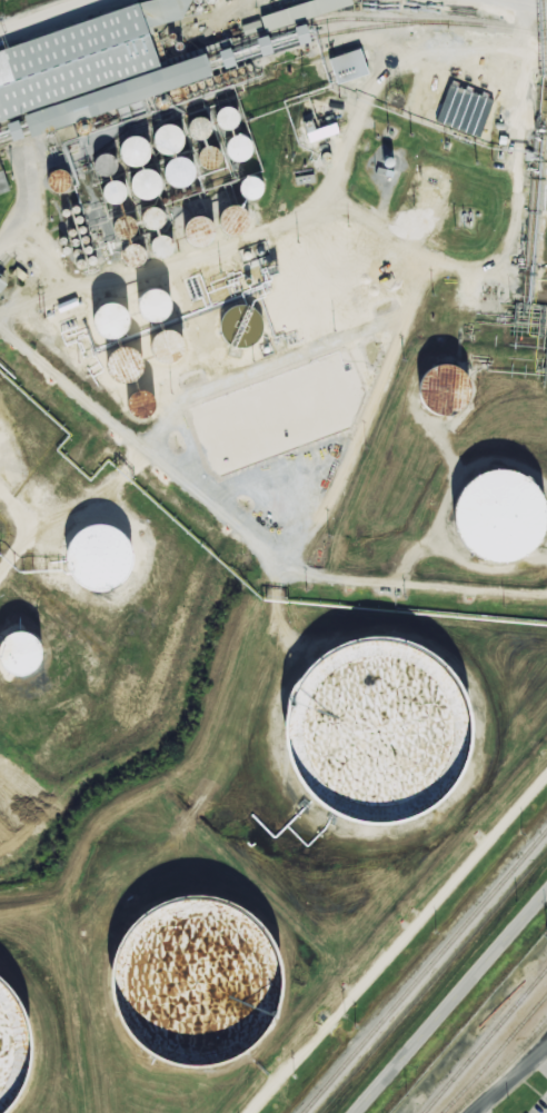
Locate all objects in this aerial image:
road: (511, 13)
building: (289, 16)
road: (63, 22)
railway: (268, 52)
railway: (218, 53)
road: (535, 62)
building: (345, 67)
building: (82, 71)
building: (419, 101)
building: (449, 111)
building: (483, 121)
building: (229, 125)
storage tank: (229, 125)
building: (318, 131)
building: (201, 137)
storage tank: (201, 137)
building: (170, 143)
storage tank: (170, 143)
building: (138, 155)
storage tank: (138, 155)
building: (241, 156)
storage tank: (241, 156)
building: (212, 163)
storage tank: (212, 163)
building: (107, 168)
storage tank: (107, 168)
building: (181, 180)
storage tank: (181, 180)
building: (60, 186)
storage tank: (60, 186)
building: (1, 188)
building: (147, 190)
storage tank: (147, 190)
building: (253, 195)
storage tank: (253, 195)
road: (31, 199)
building: (117, 199)
storage tank: (117, 199)
building: (77, 216)
storage tank: (77, 216)
building: (68, 219)
storage tank: (68, 219)
road: (380, 223)
building: (79, 225)
storage tank: (79, 225)
building: (155, 226)
storage tank: (155, 226)
building: (236, 227)
storage tank: (236, 227)
building: (128, 230)
storage tank: (128, 230)
building: (82, 235)
storage tank: (82, 235)
building: (73, 237)
storage tank: (73, 237)
building: (201, 238)
storage tank: (201, 238)
building: (86, 245)
storage tank: (86, 245)
building: (64, 247)
storage tank: (64, 247)
building: (77, 248)
storage tank: (77, 248)
building: (165, 254)
storage tank: (165, 254)
building: (89, 255)
storage tank: (89, 255)
building: (68, 258)
storage tank: (68, 258)
building: (79, 258)
storage tank: (79, 258)
building: (137, 261)
storage tank: (137, 261)
building: (93, 267)
storage tank: (93, 267)
building: (82, 269)
storage tank: (82, 269)
building: (1, 285)
road: (217, 295)
building: (197, 296)
storage tank: (197, 296)
building: (157, 311)
storage tank: (157, 311)
building: (113, 328)
storage tank: (113, 328)
building: (170, 354)
storage tank: (170, 354)
building: (128, 371)
storage tank: (128, 371)
building: (445, 395)
storage tank: (445, 395)
building: (140, 414)
storage tank: (140, 414)
road: (368, 414)
building: (497, 517)
storage tank: (497, 517)
road: (235, 528)
building: (102, 563)
storage tank: (102, 563)
building: (23, 655)
storage tank: (23, 655)
building: (378, 732)
storage tank: (378, 732)
railway: (424, 971)
building: (200, 982)
storage tank: (200, 982)
road: (450, 1000)
railway: (484, 1040)
building: (13, 1050)
storage tank: (13, 1050)
railway: (495, 1054)
railway: (503, 1069)
road: (511, 1083)

